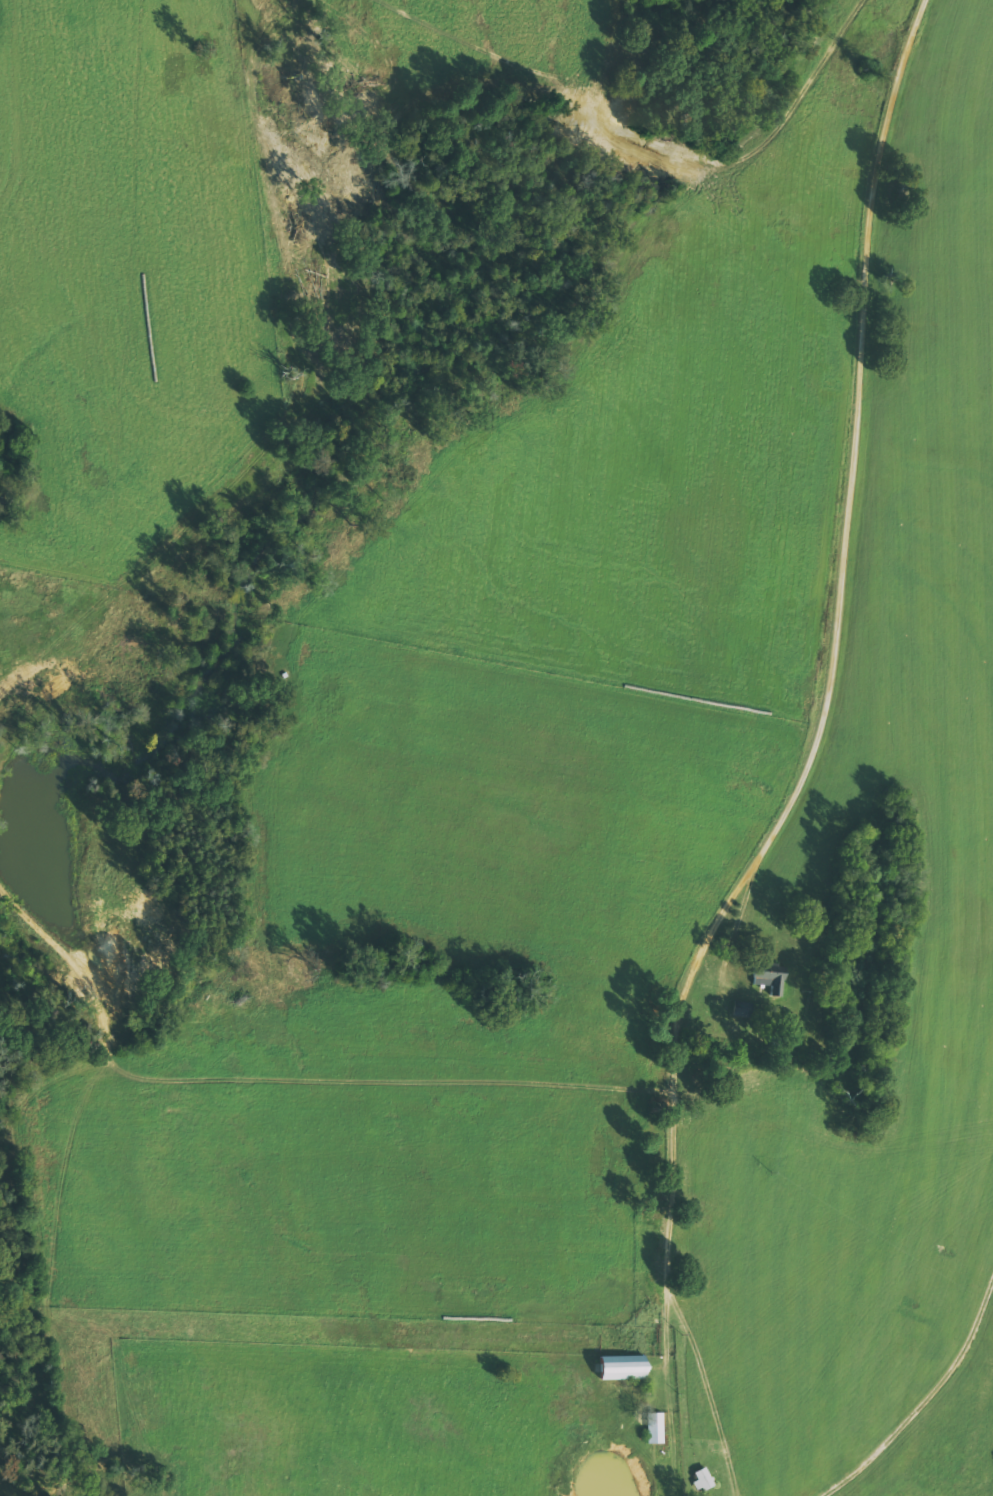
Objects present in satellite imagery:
building: (771, 981)
building: (742, 1009)
building: (622, 1366)
building: (655, 1427)
building: (704, 1478)

